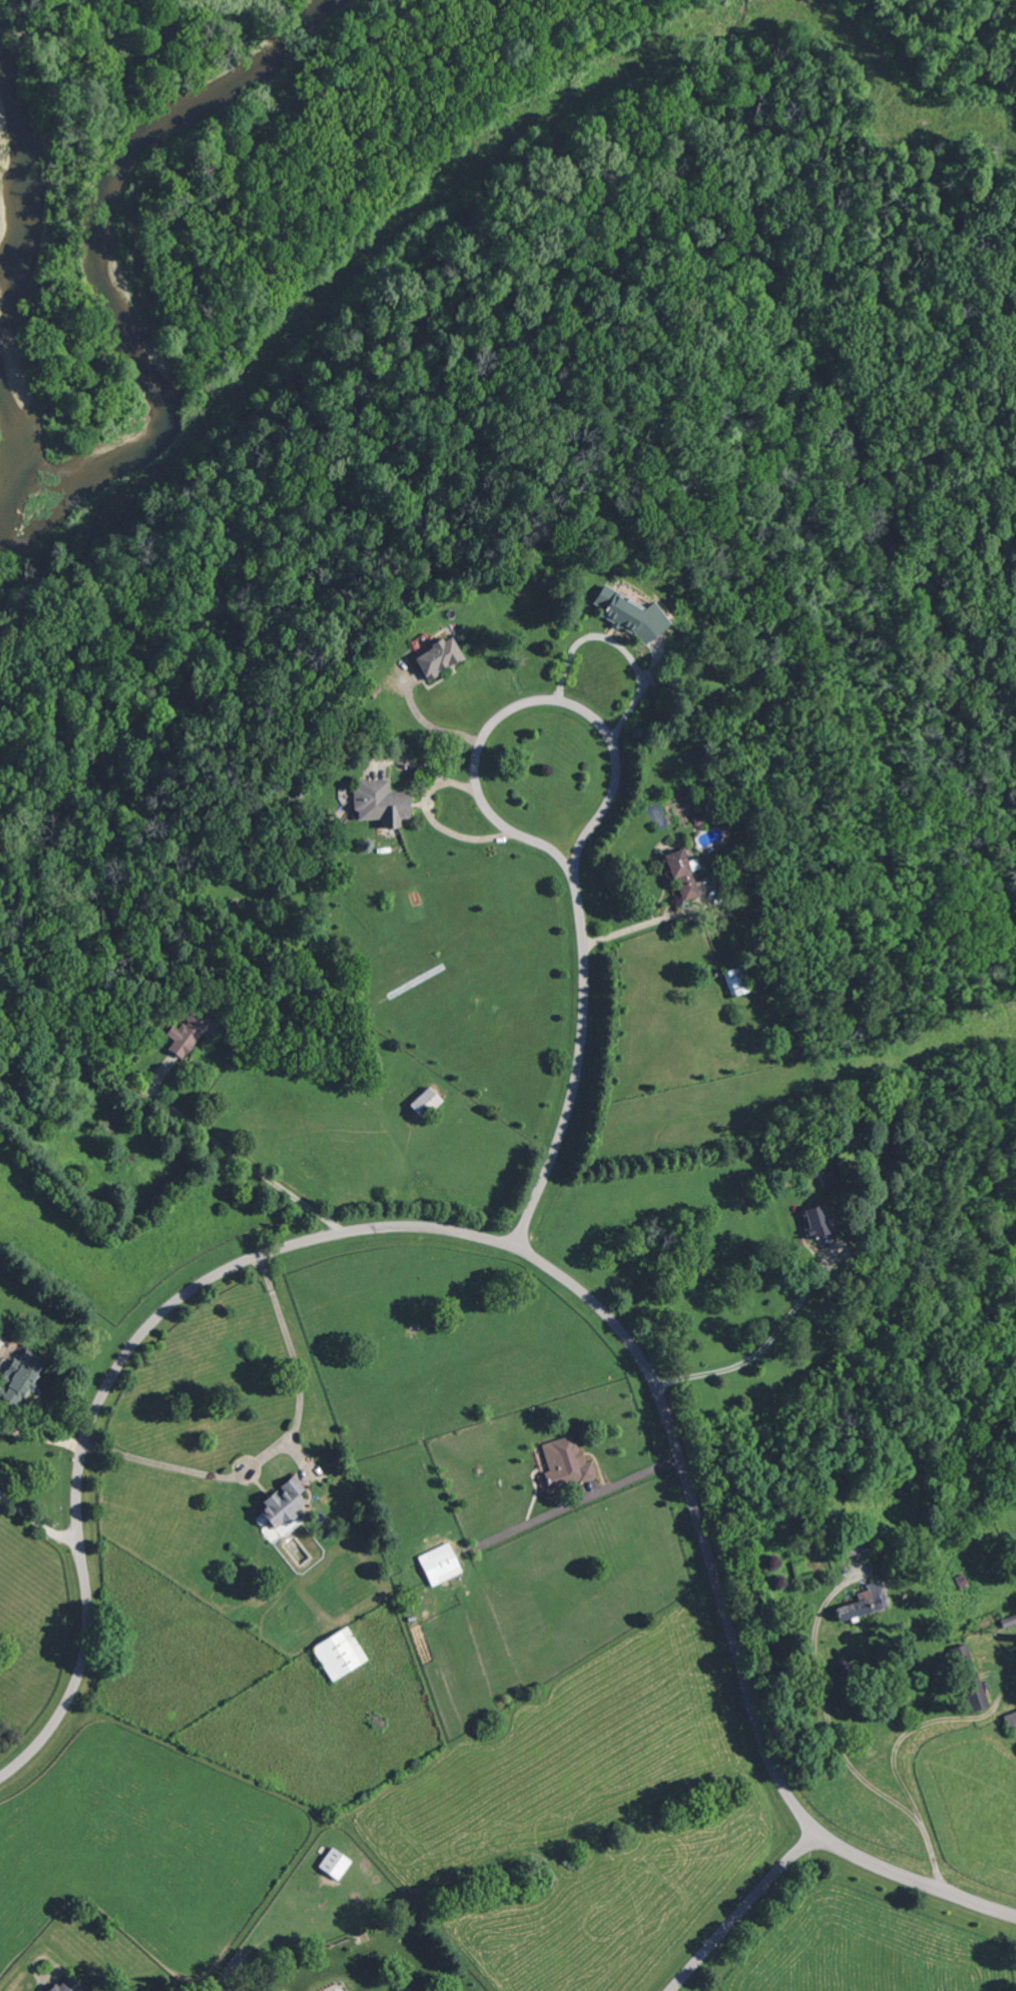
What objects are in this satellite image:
river: (21, 262)
building: (632, 613)
road: (619, 645)
building: (442, 657)
road: (556, 696)
building: (382, 803)
building: (699, 818)
road: (437, 823)
building: (683, 872)
road: (644, 924)
building: (735, 981)
building: (191, 1030)
road: (581, 1063)
building: (53, 1080)
building: (425, 1103)
road: (231, 1153)
building: (827, 1172)
building: (820, 1224)
road: (410, 1225)
road: (758, 1351)
building: (20, 1377)
road: (275, 1444)
building: (573, 1462)
road: (576, 1500)
building: (283, 1505)
road: (39, 1521)
building: (445, 1563)
building: (863, 1601)
building: (339, 1653)
building: (975, 1695)
building: (1010, 1719)
road: (836, 1746)
building: (335, 1865)
road: (914, 1873)
road: (741, 1910)
building: (68, 1987)

